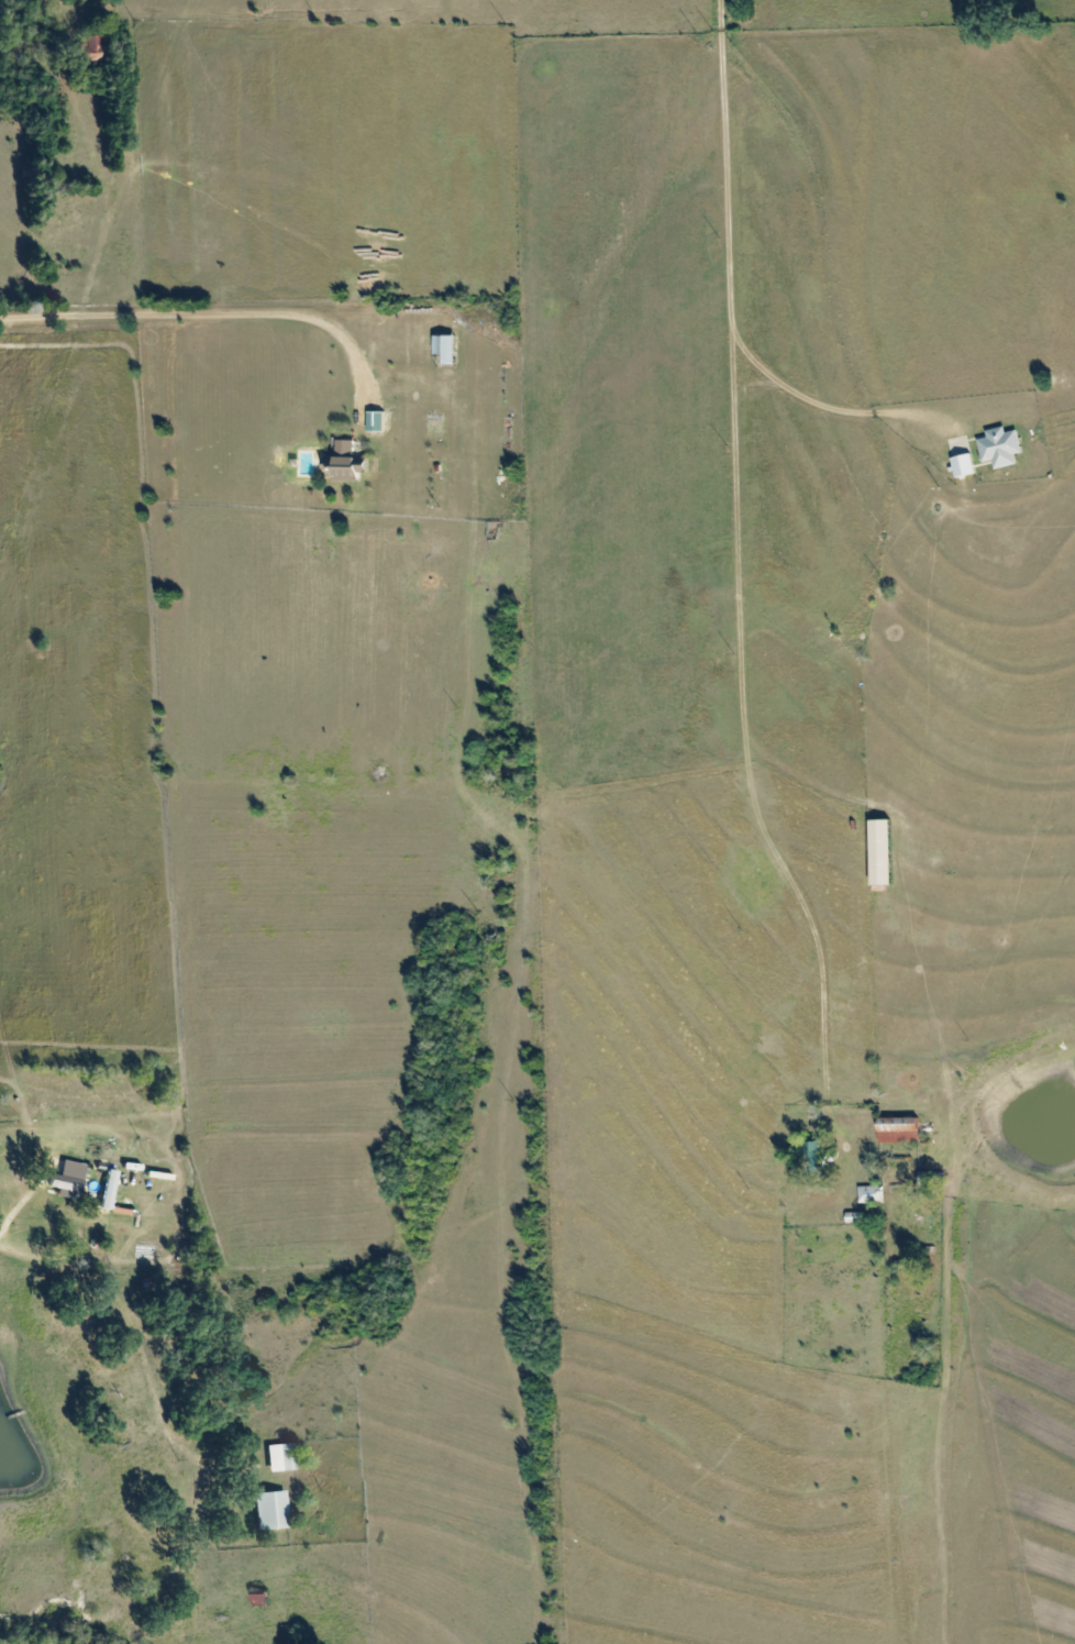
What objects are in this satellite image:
building: (90, 47)
road: (64, 306)
building: (450, 347)
building: (1004, 446)
building: (348, 462)
road: (733, 465)
building: (967, 465)
building: (886, 852)
road: (819, 940)
building: (904, 1129)
building: (70, 1178)
building: (873, 1194)
road: (122, 1253)
building: (281, 1458)
building: (273, 1510)

